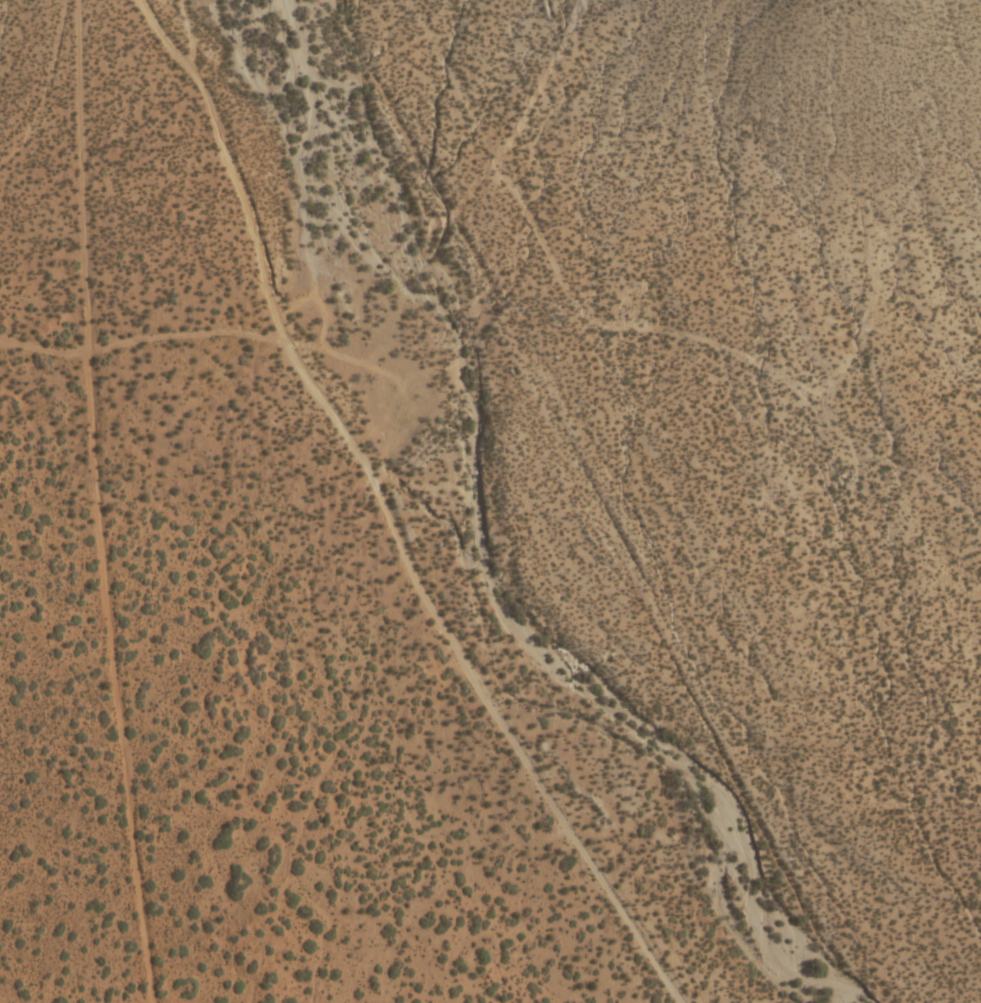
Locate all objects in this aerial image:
road: (637, 316)
road: (139, 343)
road: (385, 511)

